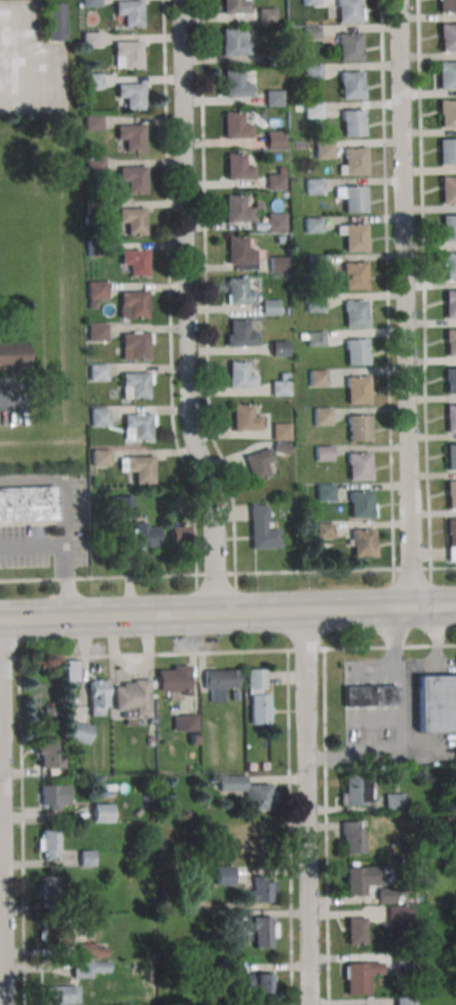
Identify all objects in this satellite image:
building: (310, 1)
building: (89, 3)
building: (235, 6)
building: (446, 6)
building: (347, 10)
building: (129, 12)
building: (266, 15)
building: (55, 21)
building: (311, 32)
building: (447, 37)
building: (91, 39)
building: (232, 43)
building: (348, 47)
building: (126, 54)
building: (273, 59)
parking lot: (30, 61)
building: (311, 73)
building: (446, 75)
building: (91, 81)
building: (351, 84)
building: (235, 85)
building: (130, 94)
building: (272, 98)
building: (312, 110)
building: (446, 114)
building: (92, 122)
building: (351, 123)
building: (234, 126)
building: (130, 136)
building: (273, 141)
building: (323, 150)
building: (447, 152)
building: (353, 161)
building: (94, 165)
building: (237, 168)
building: (278, 170)
building: (132, 178)
building: (274, 181)
building: (312, 186)
building: (447, 190)
building: (281, 195)
building: (353, 199)
building: (93, 206)
building: (236, 210)
building: (131, 219)
building: (274, 224)
building: (311, 225)
building: (448, 228)
building: (353, 237)
building: (278, 240)
building: (94, 248)
building: (238, 251)
building: (133, 260)
building: (314, 264)
building: (276, 265)
building: (449, 266)
building: (352, 275)
road: (385, 284)
road: (422, 284)
road: (204, 288)
building: (96, 289)
building: (238, 293)
building: (313, 303)
building: (132, 304)
road: (404, 304)
building: (449, 304)
building: (268, 307)
road: (168, 308)
road: (187, 308)
building: (353, 314)
building: (96, 332)
building: (239, 335)
building: (313, 339)
building: (450, 343)
building: (135, 345)
building: (277, 348)
building: (354, 352)
building: (13, 355)
building: (97, 372)
building: (239, 376)
building: (282, 376)
building: (316, 378)
building: (449, 382)
building: (134, 385)
building: (278, 388)
building: (356, 390)
parking lot: (14, 402)
road: (5, 408)
building: (321, 415)
building: (98, 416)
building: (244, 419)
building: (450, 419)
building: (135, 426)
building: (357, 428)
building: (280, 431)
building: (279, 449)
building: (322, 454)
building: (99, 457)
building: (450, 457)
building: (258, 462)
building: (358, 466)
building: (135, 469)
building: (323, 492)
building: (450, 495)
building: (120, 504)
building: (358, 504)
building: (27, 505)
road: (64, 512)
building: (260, 528)
building: (322, 530)
building: (450, 532)
building: (143, 535)
building: (178, 535)
building: (360, 543)
road: (442, 567)
road: (409, 569)
road: (312, 571)
road: (97, 577)
road: (60, 584)
road: (227, 613)
building: (70, 671)
building: (172, 679)
building: (219, 683)
building: (369, 695)
building: (97, 696)
building: (258, 696)
building: (132, 699)
building: (435, 703)
building: (184, 723)
road: (399, 724)
building: (78, 732)
building: (48, 754)
building: (352, 789)
building: (246, 791)
building: (53, 796)
building: (396, 802)
road: (306, 807)
building: (101, 813)
building: (354, 840)
building: (47, 844)
building: (86, 858)
building: (224, 875)
road: (2, 882)
building: (354, 882)
building: (49, 886)
building: (261, 892)
building: (387, 896)
building: (399, 917)
building: (355, 931)
building: (261, 933)
building: (58, 937)
building: (92, 950)
building: (88, 968)
building: (359, 978)
building: (263, 984)
building: (62, 995)
building: (404, 1000)

